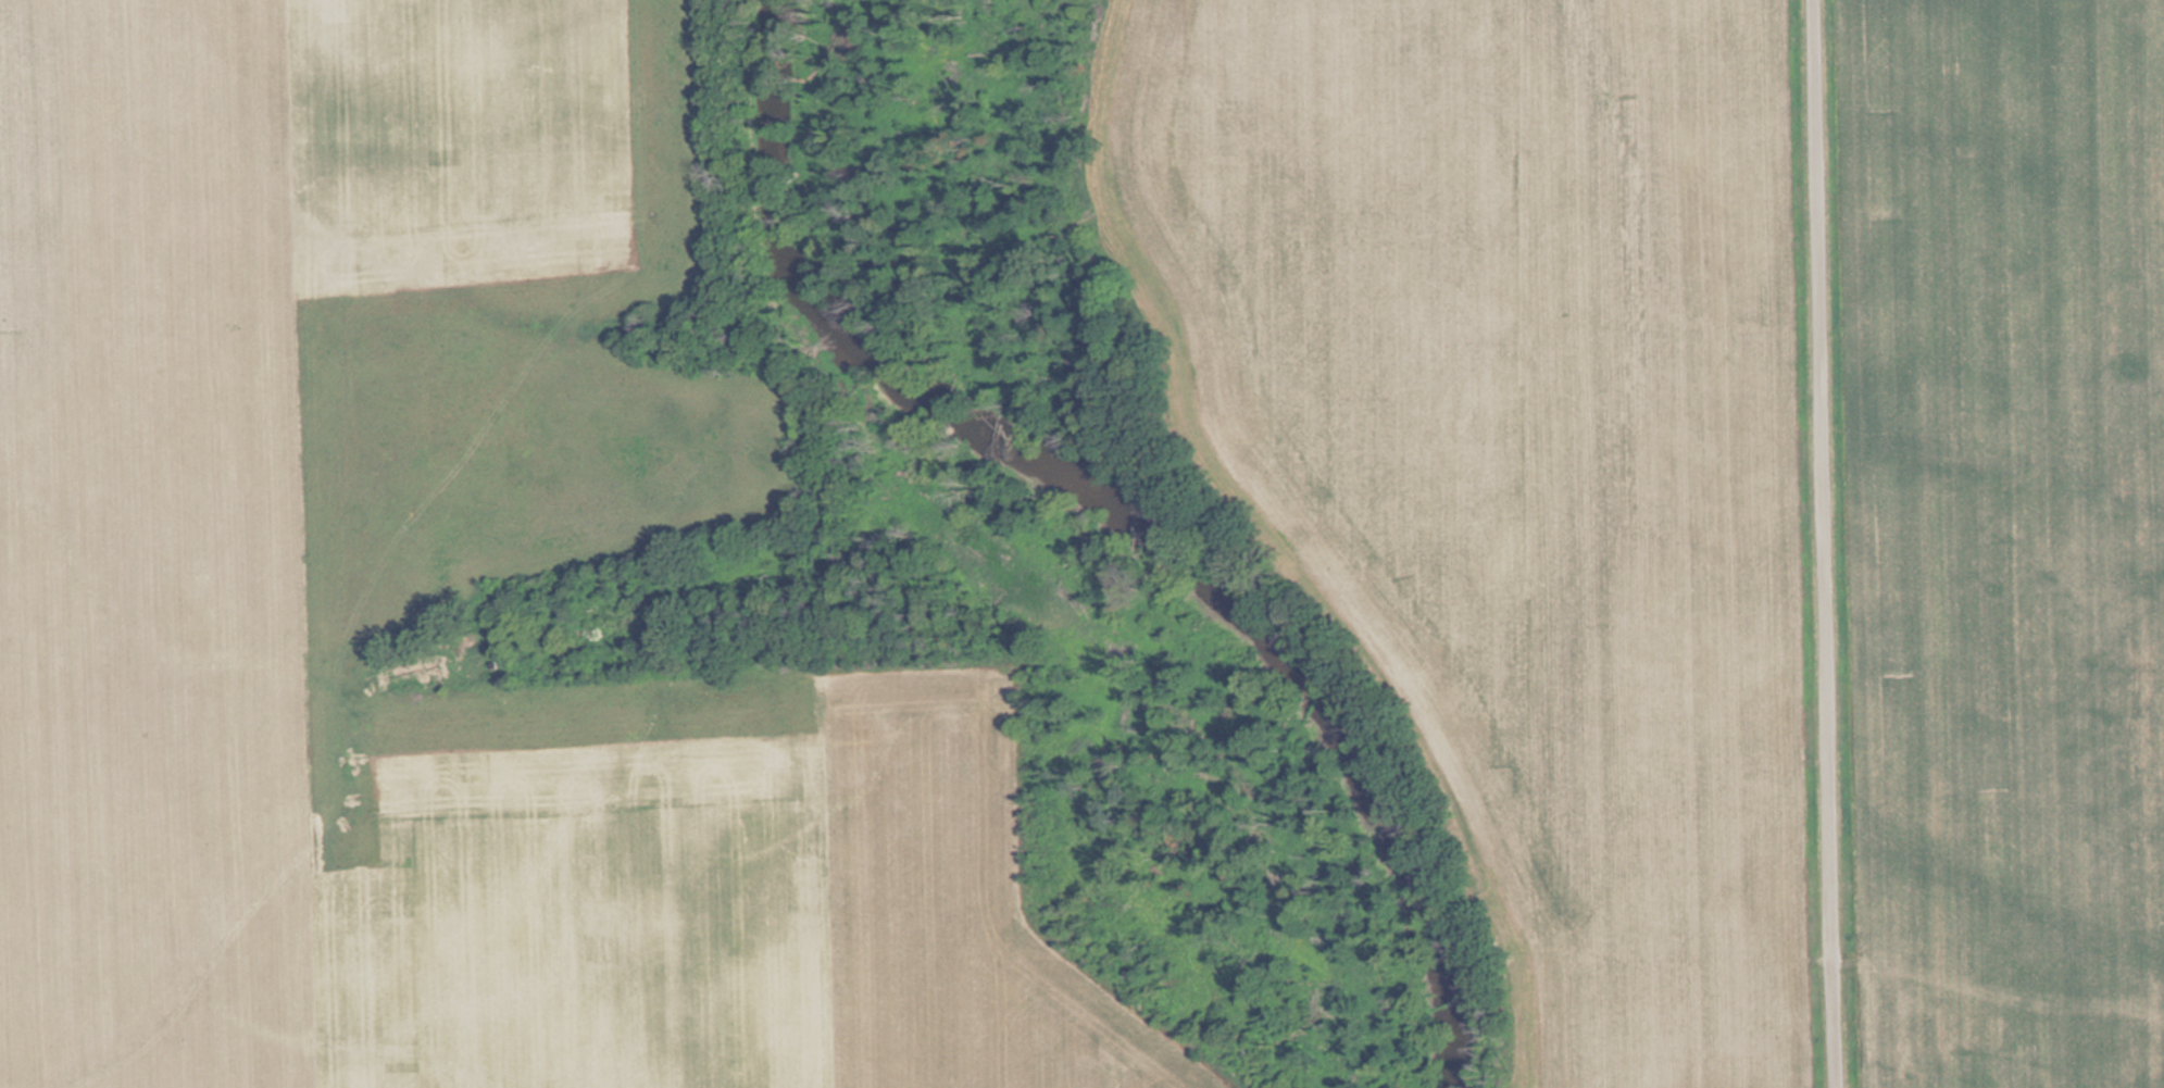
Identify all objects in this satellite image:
river: (1102, 529)
road: (1837, 543)

